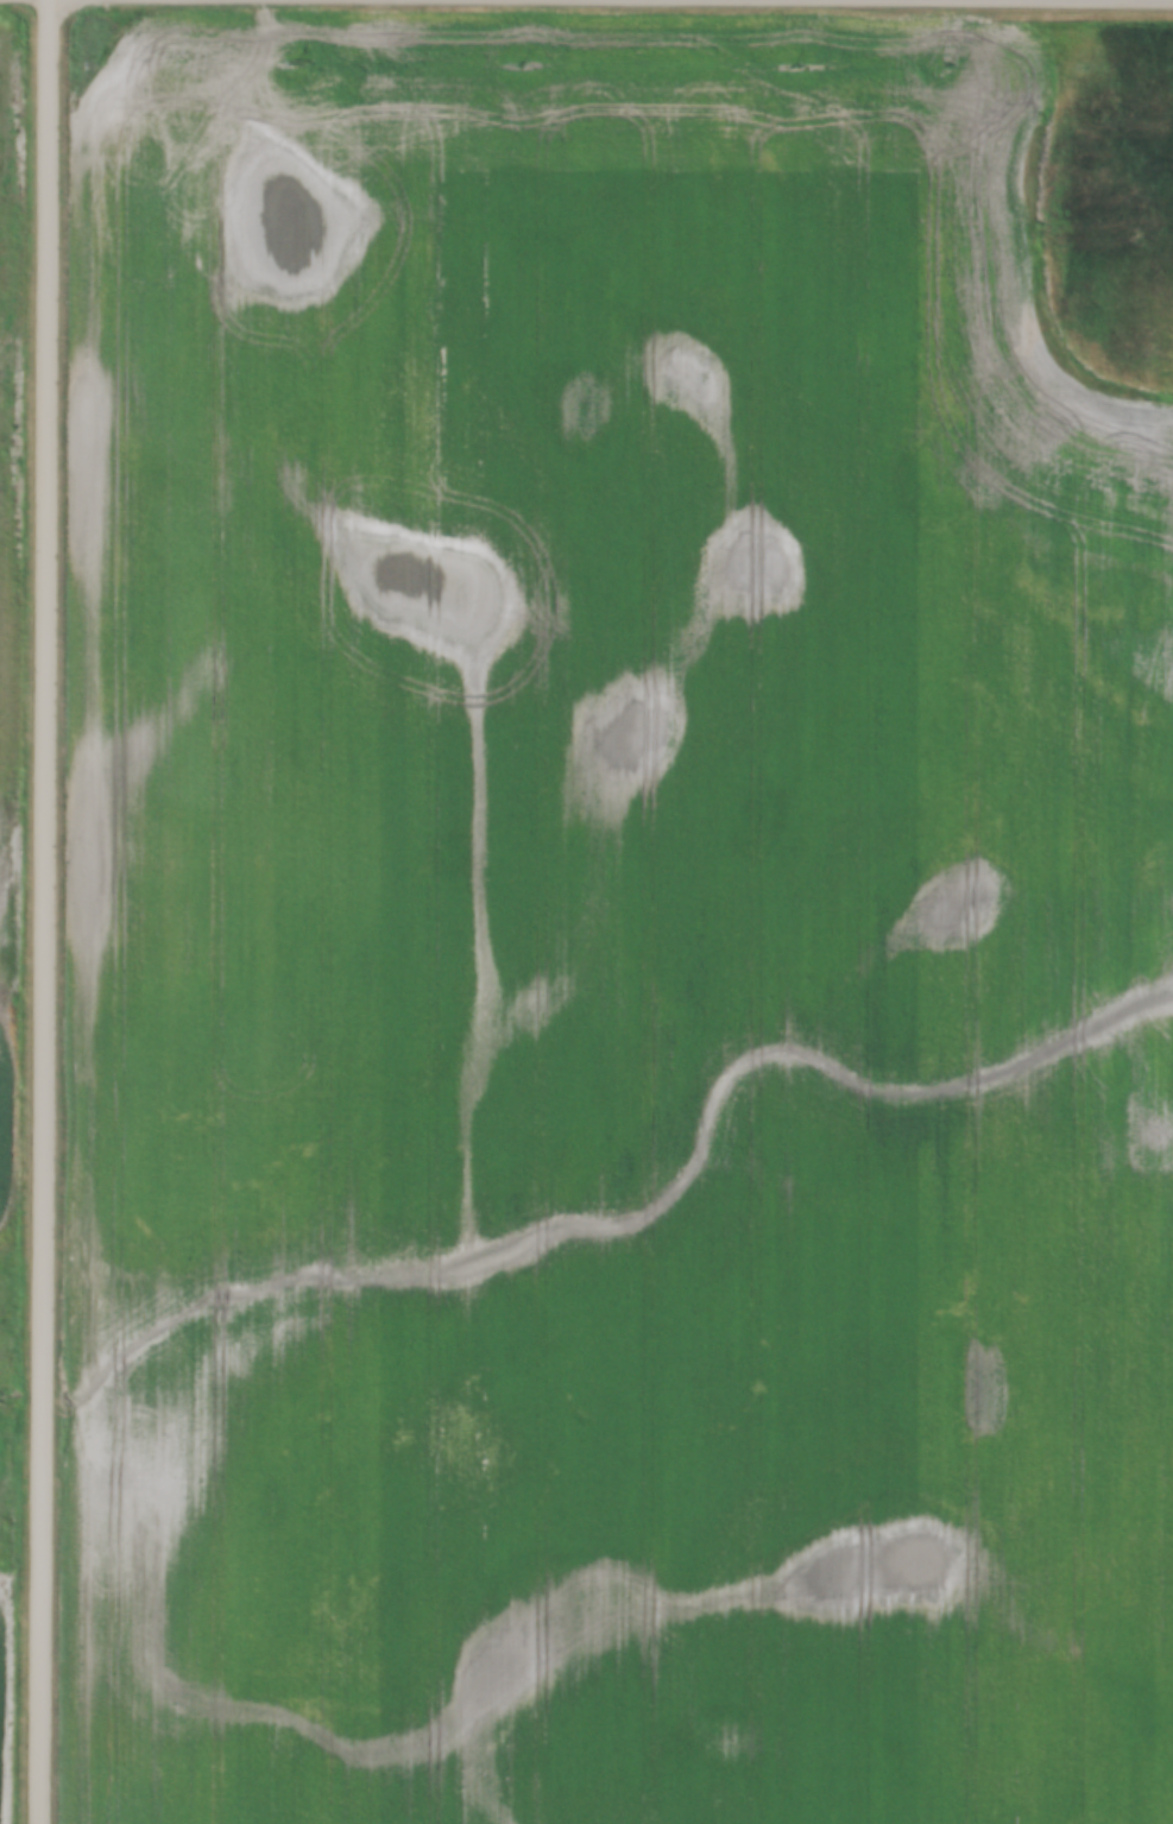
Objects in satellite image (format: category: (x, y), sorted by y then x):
road: (45, 911)

